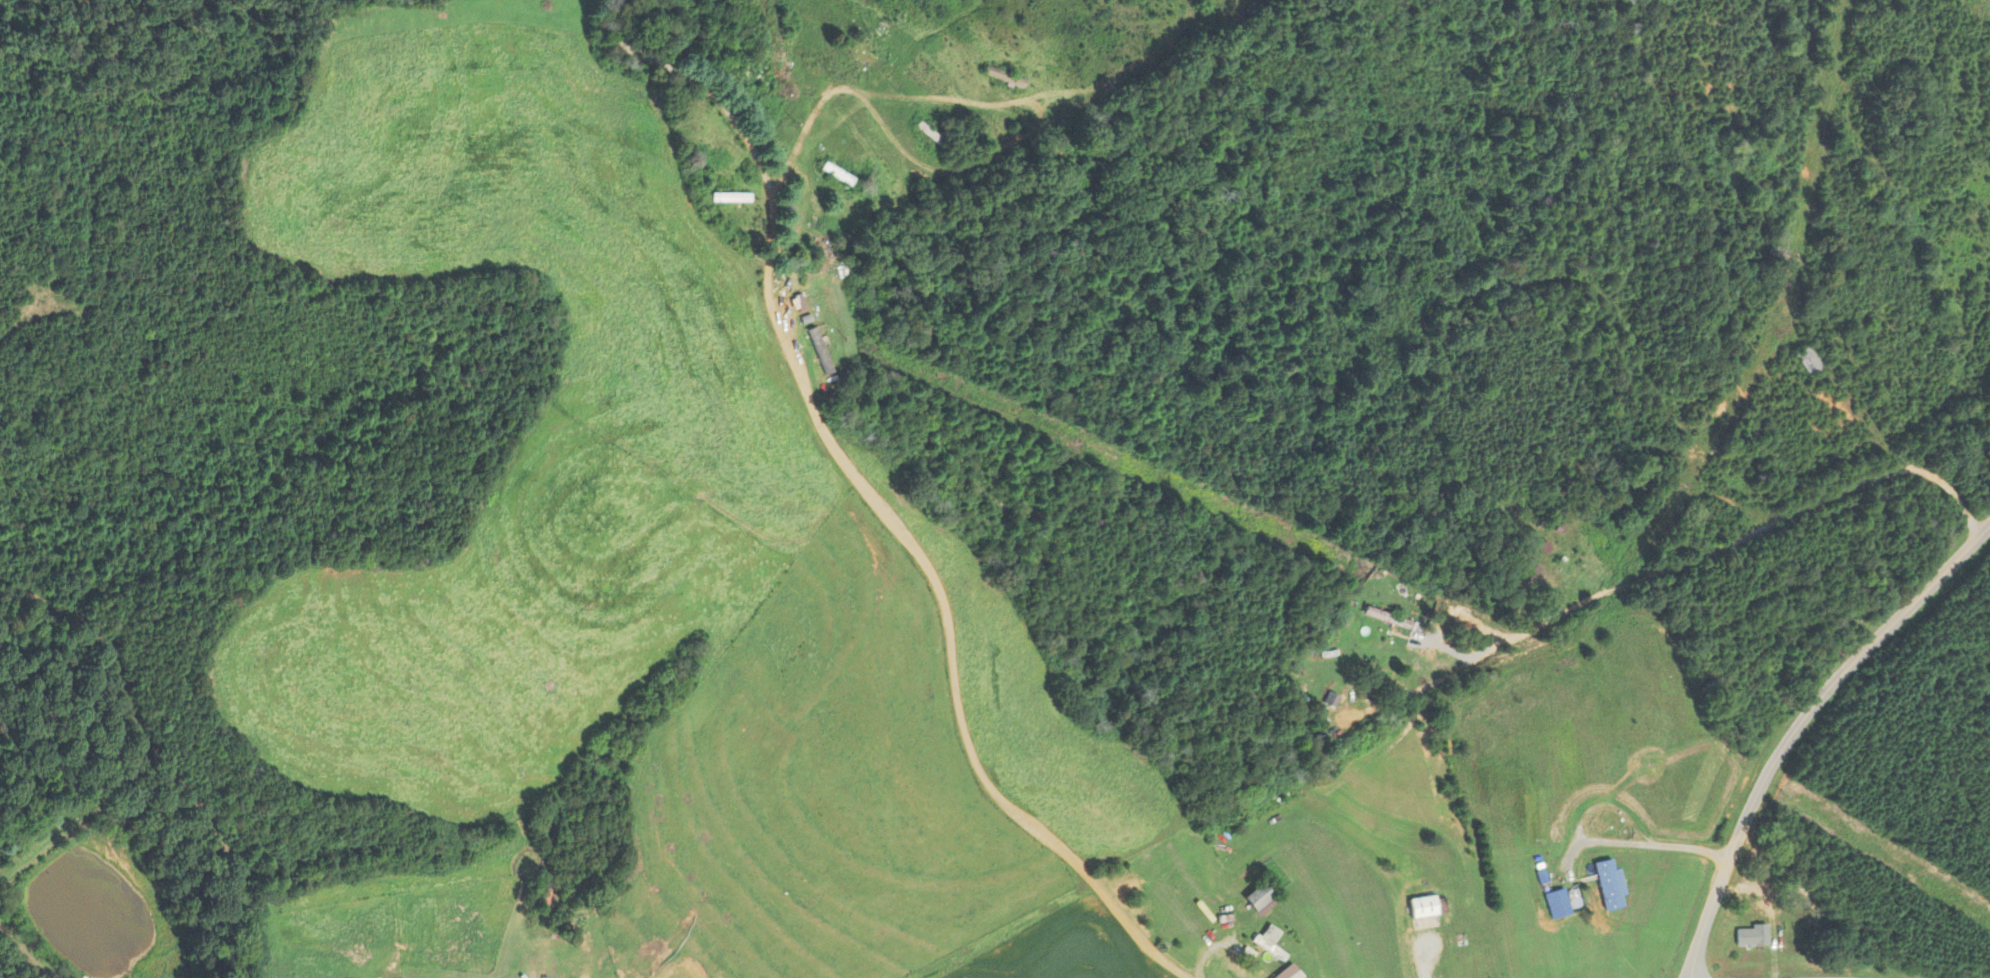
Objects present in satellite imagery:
building: (858, 50)
building: (1003, 77)
building: (760, 81)
building: (927, 133)
building: (837, 173)
building: (731, 197)
building: (1731, 248)
road: (1084, 281)
building: (807, 305)
building: (1807, 359)
road: (875, 488)
road: (1756, 536)
building: (1545, 610)
building: (1383, 618)
building: (1331, 693)
road: (1798, 724)
building: (1309, 733)
road: (1641, 844)
building: (1608, 885)
building: (1257, 897)
building: (1373, 903)
building: (1554, 904)
building: (1417, 909)
building: (1747, 937)
building: (1266, 944)
road: (1218, 952)

